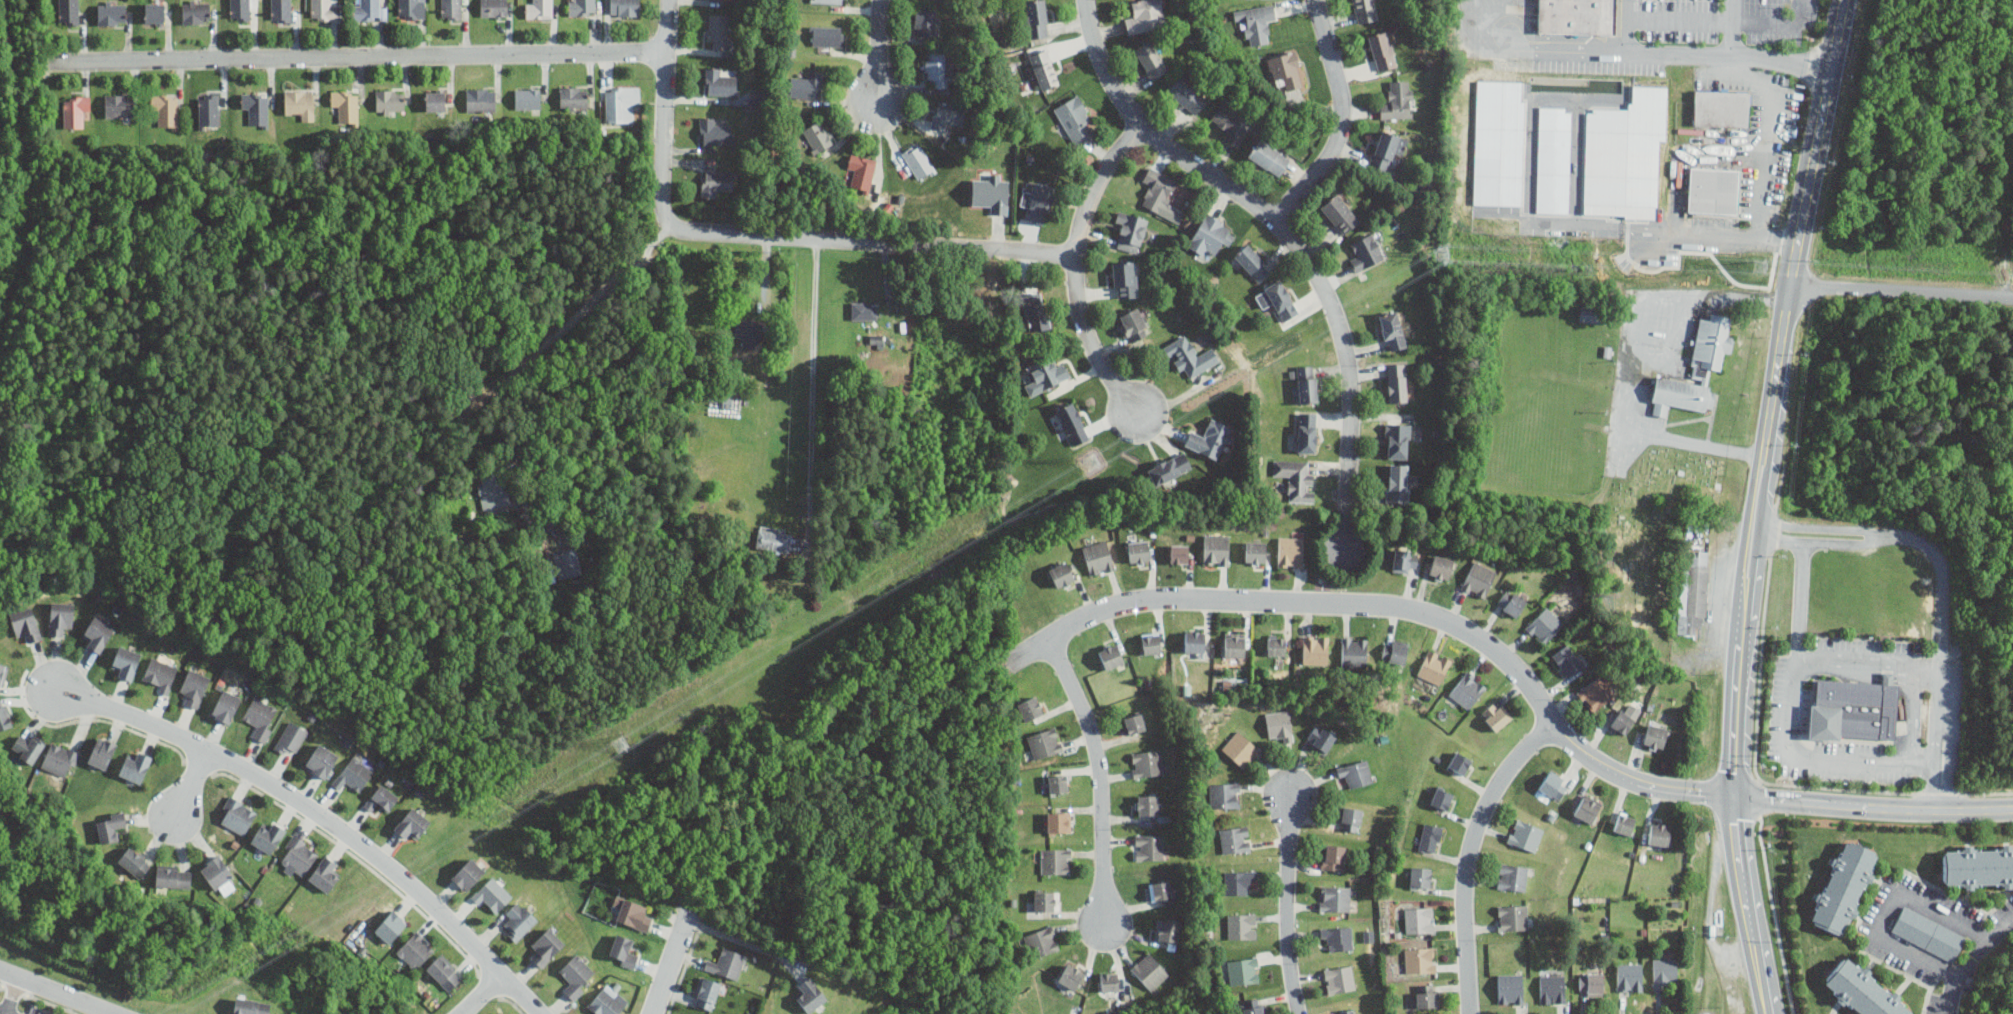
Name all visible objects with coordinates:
building: (830, 1)
building: (581, 7)
building: (625, 7)
building: (493, 8)
building: (538, 8)
building: (239, 9)
building: (411, 9)
building: (451, 9)
building: (280, 10)
building: (325, 10)
building: (369, 10)
building: (1366, 10)
building: (196, 11)
building: (68, 12)
building: (154, 12)
building: (111, 13)
building: (1145, 15)
building: (1578, 16)
building: (1035, 19)
road: (1723, 19)
building: (925, 22)
building: (1257, 22)
building: (719, 30)
building: (827, 36)
road: (1532, 49)
road: (1675, 49)
road: (876, 50)
building: (1382, 50)
road: (351, 56)
building: (1151, 59)
road: (1777, 63)
building: (939, 66)
building: (1286, 69)
building: (1044, 70)
building: (720, 82)
building: (807, 86)
building: (1186, 95)
building: (527, 98)
building: (480, 99)
building: (573, 99)
building: (1398, 100)
building: (390, 101)
building: (434, 101)
building: (617, 101)
building: (300, 104)
building: (119, 105)
building: (345, 105)
building: (165, 108)
building: (256, 108)
building: (1722, 108)
building: (75, 110)
building: (208, 112)
building: (947, 114)
building: (1074, 118)
road: (1339, 118)
building: (1232, 122)
building: (714, 133)
building: (817, 136)
building: (1500, 142)
road: (1769, 146)
building: (1387, 148)
building: (1626, 155)
building: (1268, 157)
building: (1555, 159)
building: (918, 160)
building: (861, 171)
building: (717, 182)
building: (1716, 190)
building: (991, 193)
building: (1161, 195)
building: (1037, 202)
building: (1339, 213)
building: (1132, 231)
road: (759, 233)
building: (1211, 235)
road: (1287, 236)
building: (1366, 251)
power tower: (1444, 257)
road: (1076, 262)
building: (1252, 262)
power tower: (1761, 265)
building: (1125, 279)
road: (1903, 290)
building: (1276, 299)
building: (863, 311)
building: (1035, 312)
building: (1593, 314)
building: (1133, 324)
building: (747, 329)
building: (1392, 330)
building: (877, 340)
road: (545, 343)
building: (1190, 357)
road: (1636, 366)
building: (1695, 369)
building: (1046, 374)
building: (1396, 382)
building: (1306, 383)
road: (813, 393)
road: (1773, 398)
building: (1072, 423)
building: (1307, 432)
building: (1210, 438)
building: (1397, 440)
power tower: (1092, 465)
building: (1169, 468)
building: (1296, 478)
building: (1397, 483)
building: (493, 490)
road: (1763, 528)
road: (1775, 531)
building: (774, 539)
building: (1216, 549)
building: (1290, 551)
building: (1138, 552)
building: (1255, 552)
building: (1179, 553)
building: (1098, 558)
building: (1405, 560)
building: (567, 562)
building: (1441, 567)
building: (1061, 574)
building: (1479, 579)
building: (1694, 595)
building: (1511, 603)
road: (1385, 606)
road: (1942, 606)
building: (60, 616)
building: (25, 623)
building: (1545, 625)
building: (98, 632)
building: (1151, 642)
building: (1194, 643)
building: (1234, 644)
building: (1275, 644)
building: (1315, 649)
building: (1354, 652)
building: (1394, 652)
building: (1110, 656)
building: (1567, 660)
building: (126, 661)
road: (1855, 661)
building: (1434, 666)
building: (159, 674)
building: (3, 675)
building: (193, 687)
building: (1467, 690)
building: (1596, 693)
road: (1916, 698)
building: (226, 706)
building: (1029, 708)
building: (1854, 709)
building: (4, 716)
building: (1496, 716)
building: (260, 717)
building: (1622, 722)
building: (1135, 723)
road: (1789, 723)
building: (1280, 724)
road: (1946, 727)
building: (1655, 737)
building: (1321, 738)
building: (291, 739)
building: (1044, 742)
power tower: (620, 745)
building: (26, 747)
building: (1241, 748)
building: (102, 752)
building: (60, 759)
building: (321, 760)
building: (1147, 763)
building: (1458, 763)
building: (135, 766)
building: (1356, 772)
building: (354, 773)
road: (1098, 774)
road: (193, 783)
building: (1058, 783)
building: (1554, 785)
building: (1225, 795)
building: (381, 798)
building: (1441, 798)
road: (1942, 799)
traffic signals: (1732, 800)
building: (1148, 804)
road: (1872, 806)
building: (1589, 808)
building: (237, 814)
road: (324, 817)
building: (1351, 819)
building: (1058, 822)
building: (412, 824)
building: (1624, 824)
building: (110, 826)
building: (1659, 834)
building: (1525, 835)
building: (267, 836)
building: (1430, 838)
building: (1235, 839)
building: (1150, 847)
building: (298, 854)
building: (1333, 856)
road: (1470, 856)
building: (1056, 861)
building: (134, 862)
building: (1977, 866)
building: (216, 871)
building: (326, 873)
building: (468, 874)
building: (1420, 874)
building: (173, 877)
building: (1512, 877)
building: (1237, 881)
building: (1843, 887)
building: (1160, 890)
building: (492, 895)
building: (1335, 898)
building: (1043, 901)
road: (1289, 904)
road: (1749, 907)
road: (1885, 908)
building: (631, 913)
building: (1513, 917)
building: (1419, 919)
building: (519, 920)
building: (390, 925)
building: (1242, 926)
building: (1168, 931)
building: (1929, 933)
building: (1338, 937)
building: (1041, 941)
road: (744, 942)
building: (546, 946)
building: (414, 950)
building: (623, 951)
building: (1420, 959)
road: (1971, 960)
building: (727, 963)
road: (670, 964)
building: (1150, 971)
building: (1243, 971)
building: (444, 972)
building: (1663, 972)
building: (576, 976)
building: (1071, 976)
building: (1629, 977)
building: (1339, 979)
building: (1108, 982)
building: (1591, 983)
building: (1510, 988)
building: (1552, 988)
road: (58, 990)
building: (1862, 990)
road: (8, 992)
building: (707, 993)
road: (481, 994)
building: (809, 994)
building: (1427, 995)
building: (607, 1003)
building: (250, 1006)
building: (1253, 1006)
building: (1347, 1011)
road: (3, 1012)
road: (1710, 1012)
building: (498, 1013)

